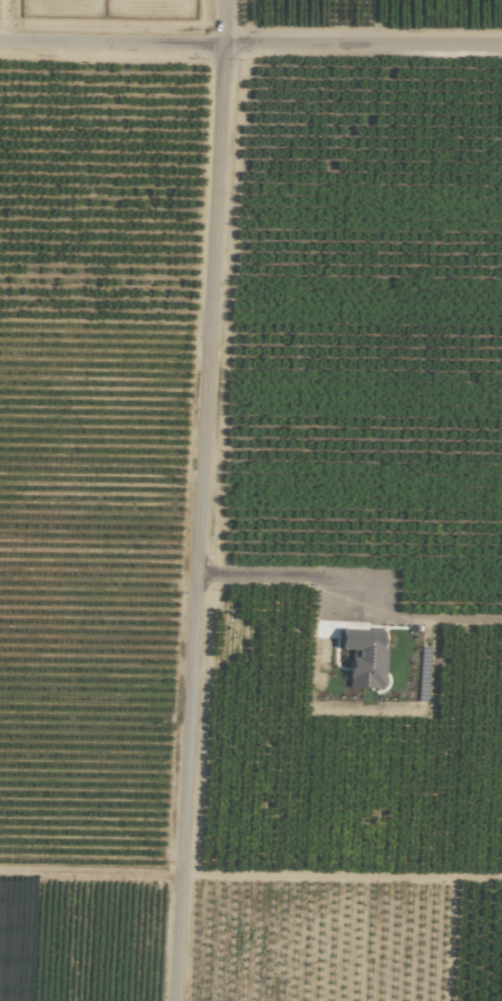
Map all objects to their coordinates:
road: (250, 44)
road: (201, 500)
road: (304, 578)

